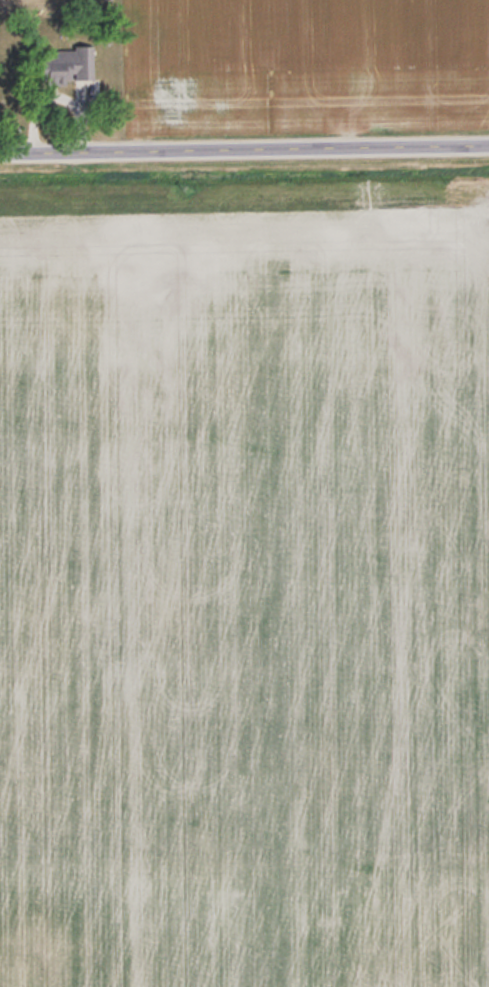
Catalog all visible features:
building: (70, 64)
road: (244, 153)

